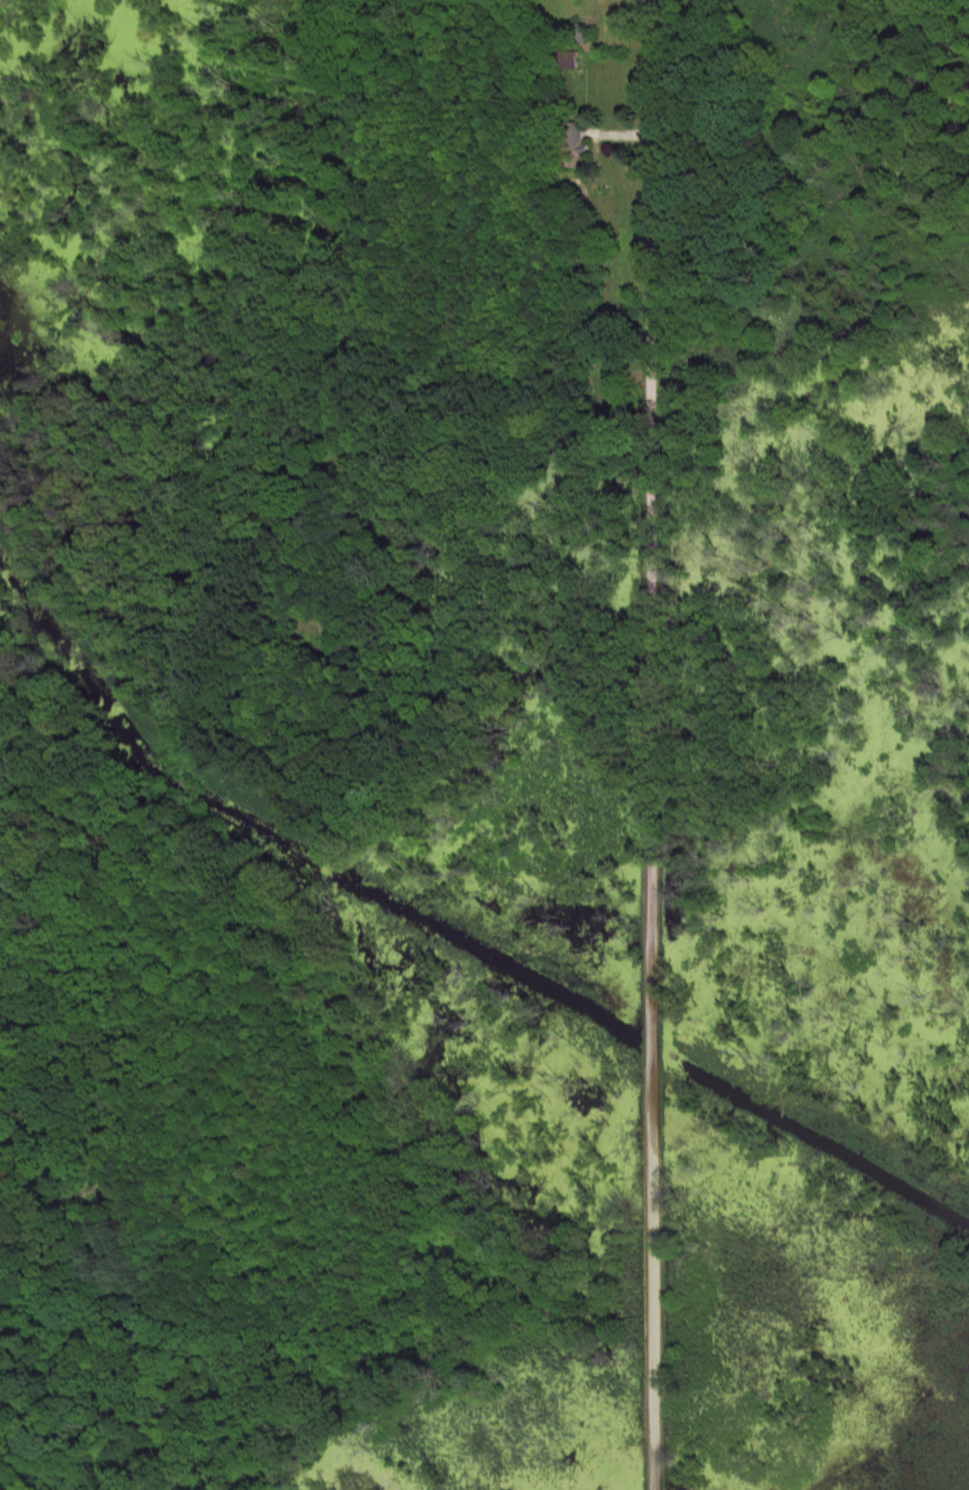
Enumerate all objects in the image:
building: (567, 144)
road: (649, 745)

